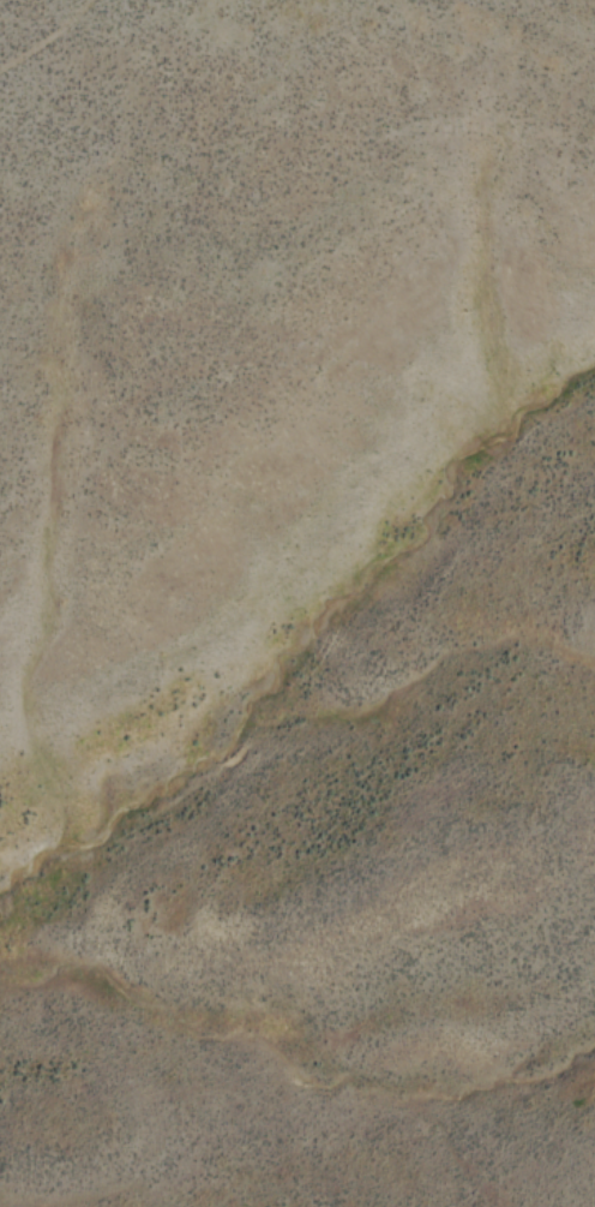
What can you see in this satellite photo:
road: (46, 40)

